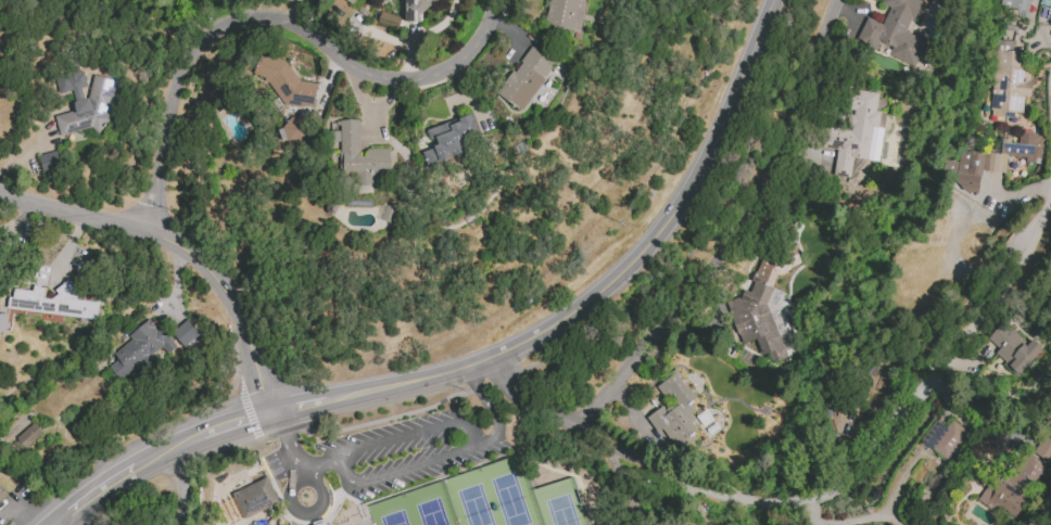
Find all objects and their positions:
building: (352, 1)
building: (1017, 3)
building: (418, 9)
road: (292, 12)
building: (565, 13)
road: (273, 16)
building: (388, 20)
building: (892, 33)
road: (421, 34)
building: (525, 78)
building: (287, 81)
building: (85, 102)
building: (292, 130)
building: (854, 131)
building: (452, 138)
building: (378, 152)
building: (1005, 154)
building: (49, 162)
road: (986, 209)
road: (18, 225)
road: (710, 236)
road: (63, 246)
road: (181, 246)
road: (704, 272)
road: (613, 278)
road: (1027, 295)
building: (52, 302)
building: (761, 302)
building: (3, 322)
building: (186, 333)
building: (140, 348)
building: (1013, 348)
road: (940, 367)
road: (472, 374)
road: (295, 404)
road: (976, 406)
road: (248, 409)
road: (492, 409)
building: (674, 409)
road: (235, 423)
road: (292, 434)
road: (408, 434)
building: (28, 435)
building: (945, 439)
road: (485, 440)
building: (1043, 449)
road: (165, 451)
road: (294, 457)
road: (642, 464)
road: (404, 470)
road: (301, 475)
road: (294, 483)
road: (898, 484)
building: (1012, 486)
road: (630, 489)
park: (512, 491)
building: (1, 495)
road: (96, 495)
building: (255, 498)
park: (471, 498)
park: (559, 503)
park: (431, 504)
road: (761, 508)
park: (391, 511)
road: (799, 517)
road: (856, 521)
road: (56, 523)
road: (61, 523)
road: (13, 524)
building: (320, 524)
building: (333, 524)

